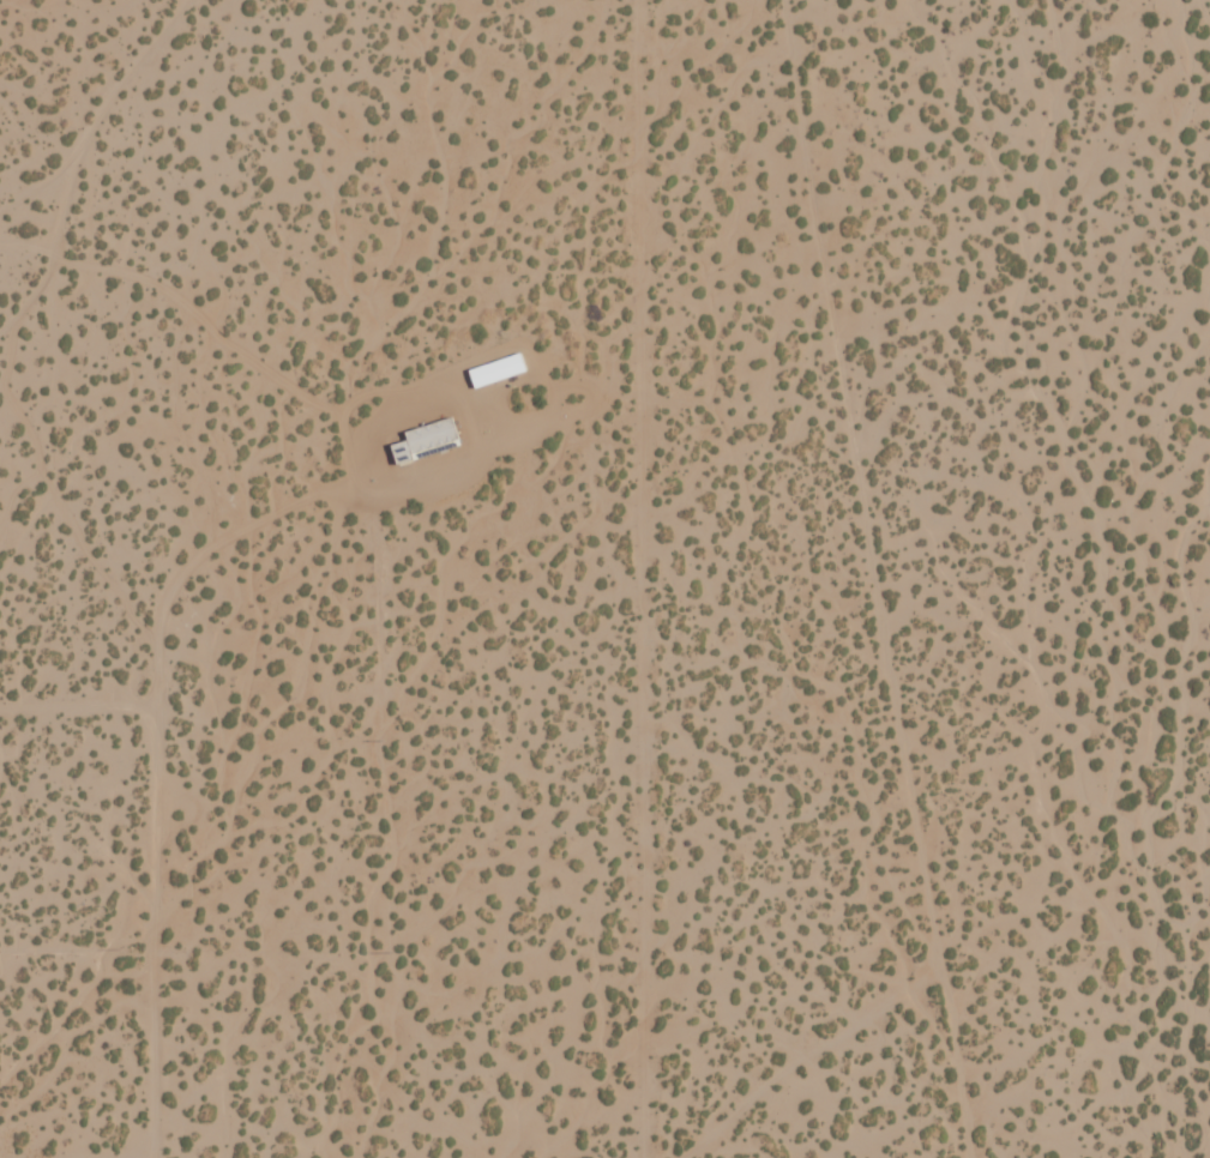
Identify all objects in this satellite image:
road: (98, 127)
road: (8, 241)
road: (23, 285)
building: (496, 369)
building: (431, 433)
road: (1043, 760)
road: (911, 971)

